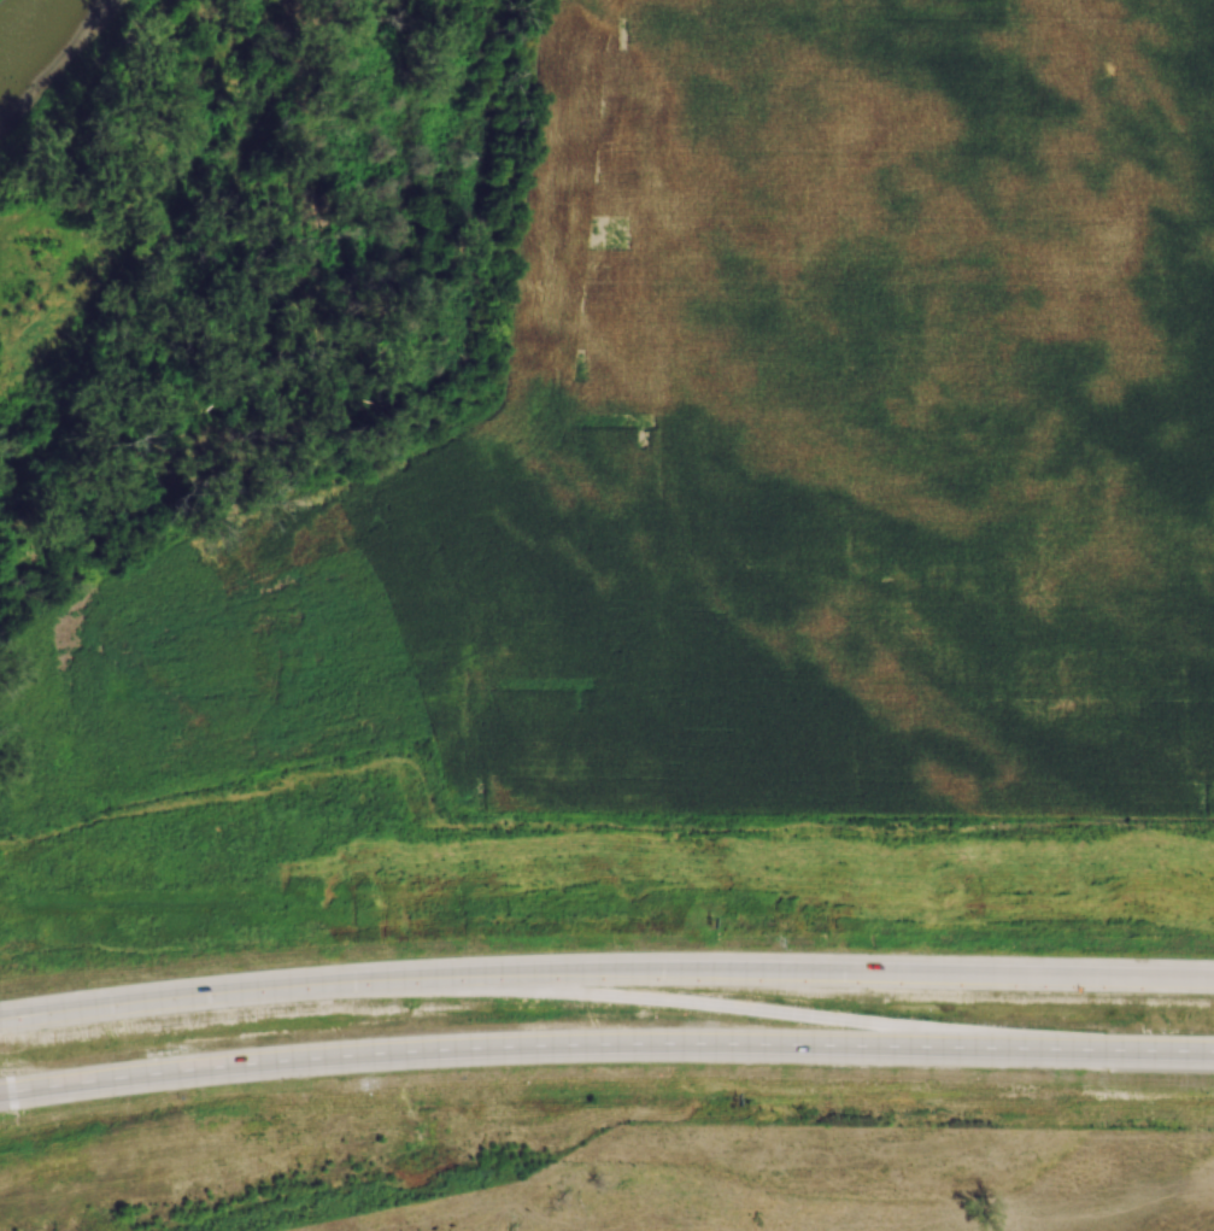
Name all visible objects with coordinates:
road: (605, 971)
road: (605, 1044)

